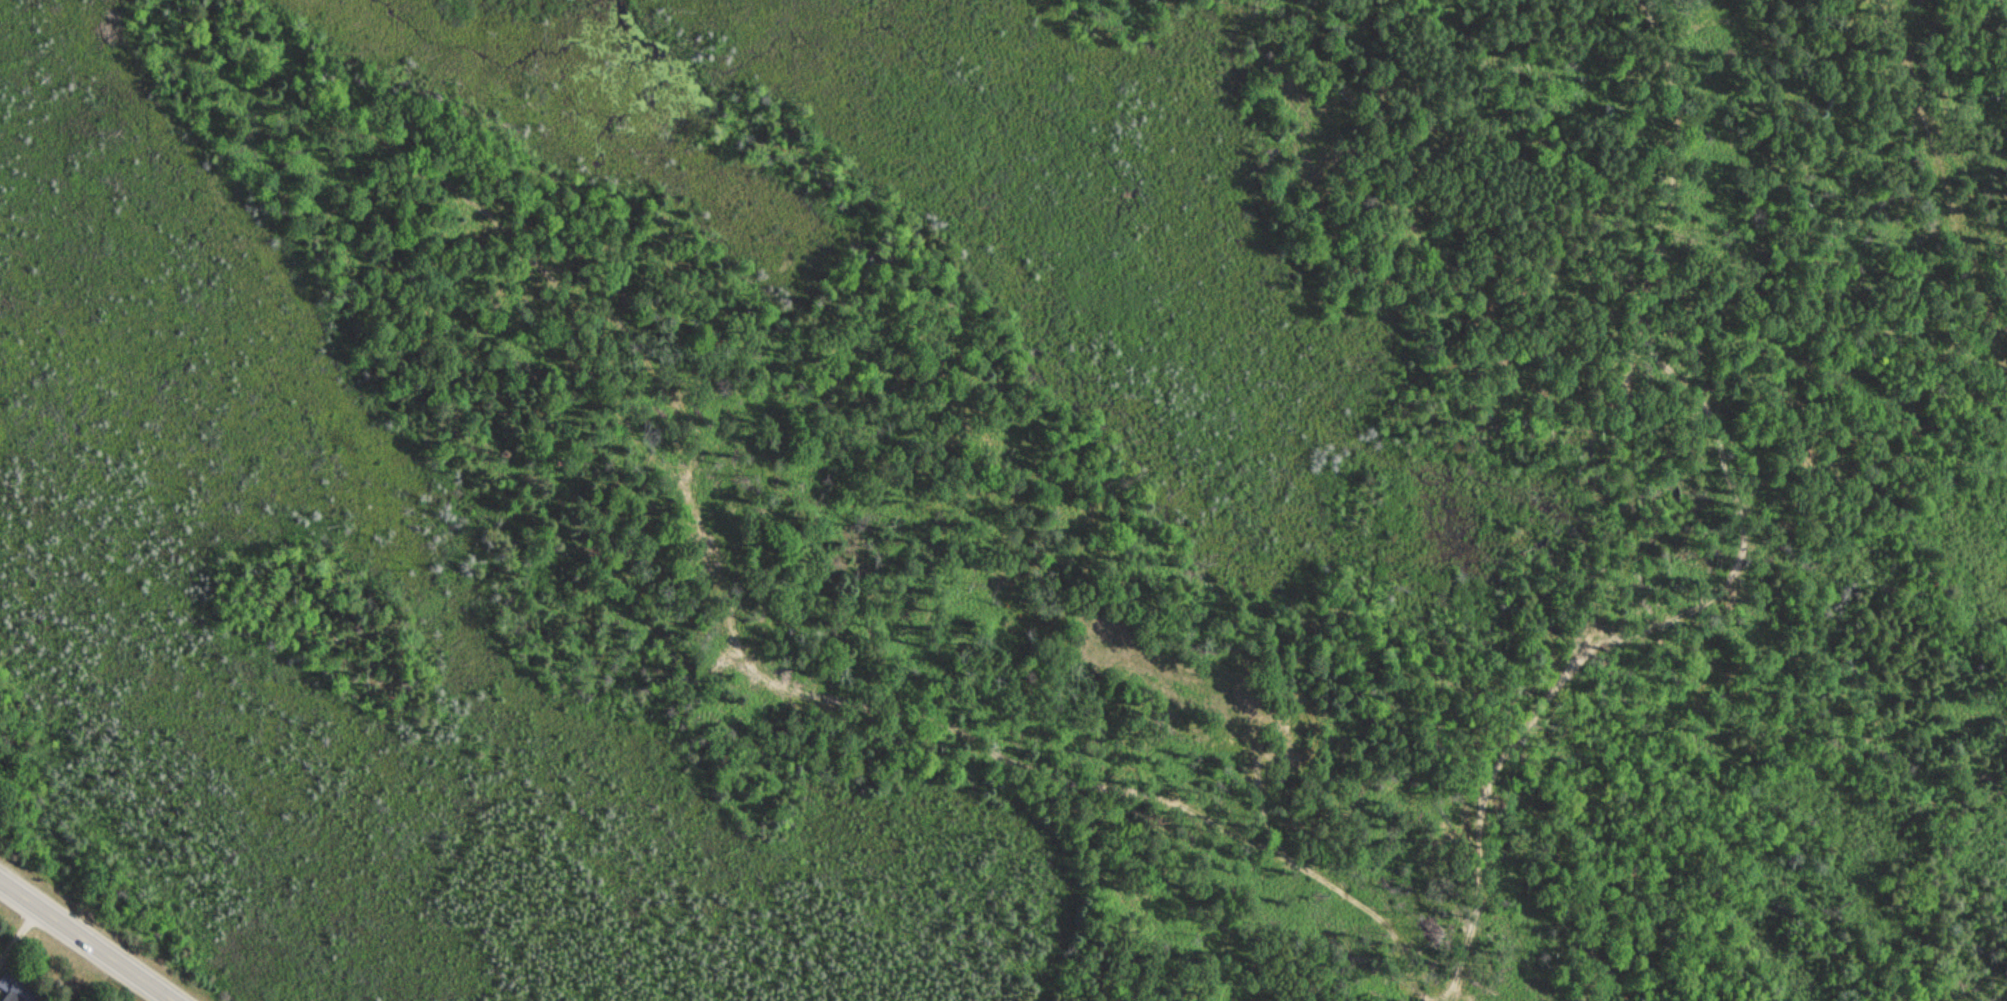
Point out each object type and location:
road: (89, 939)
building: (16, 988)

